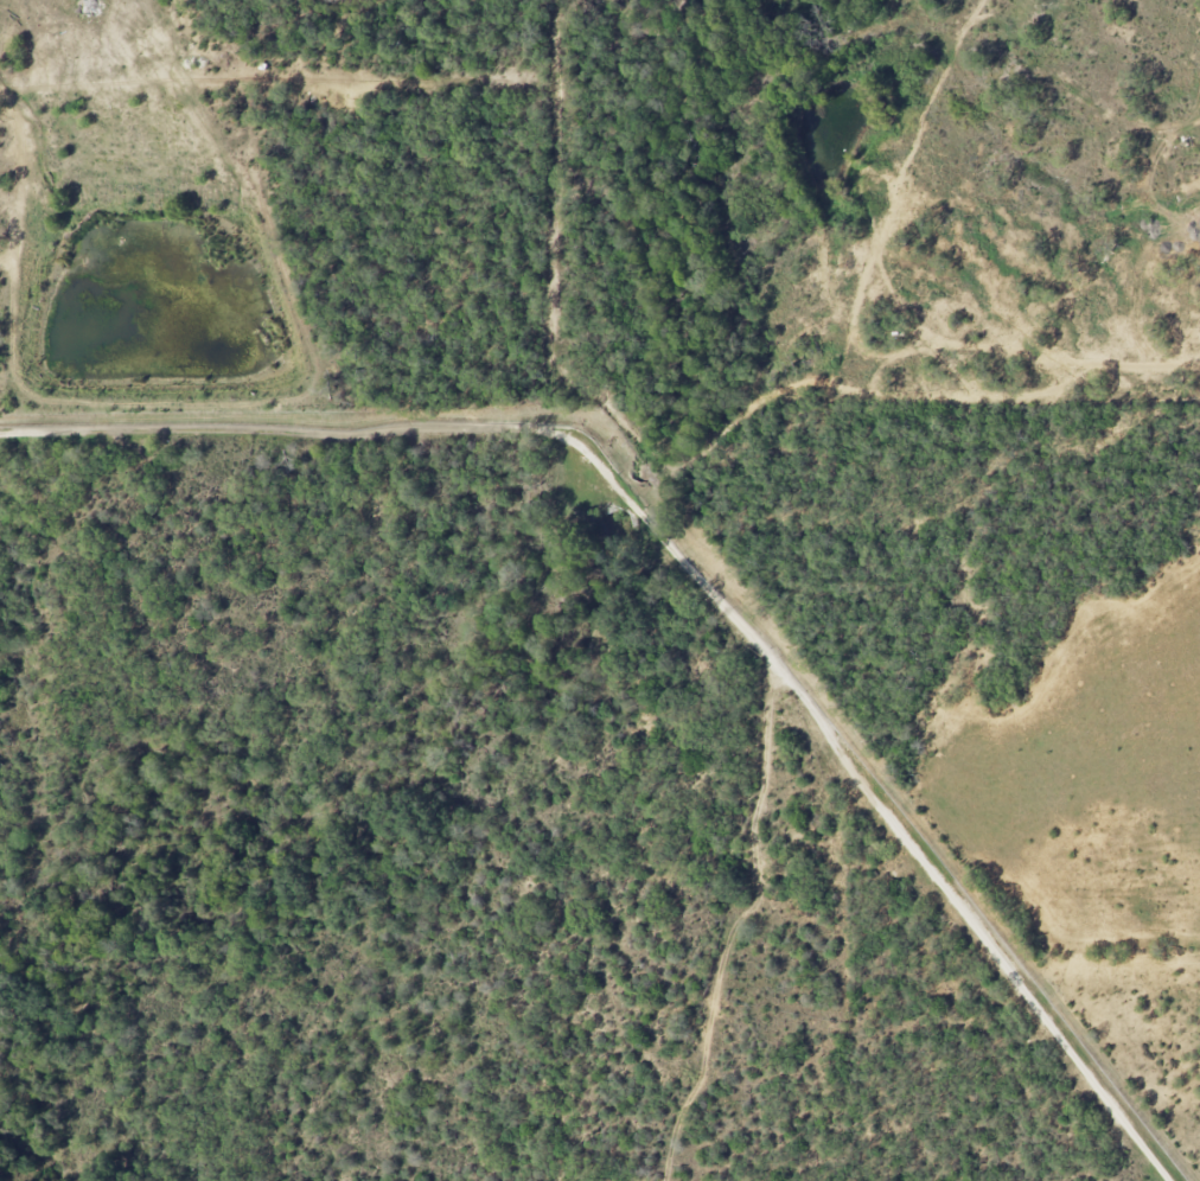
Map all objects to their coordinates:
road: (697, 580)
road: (740, 924)

